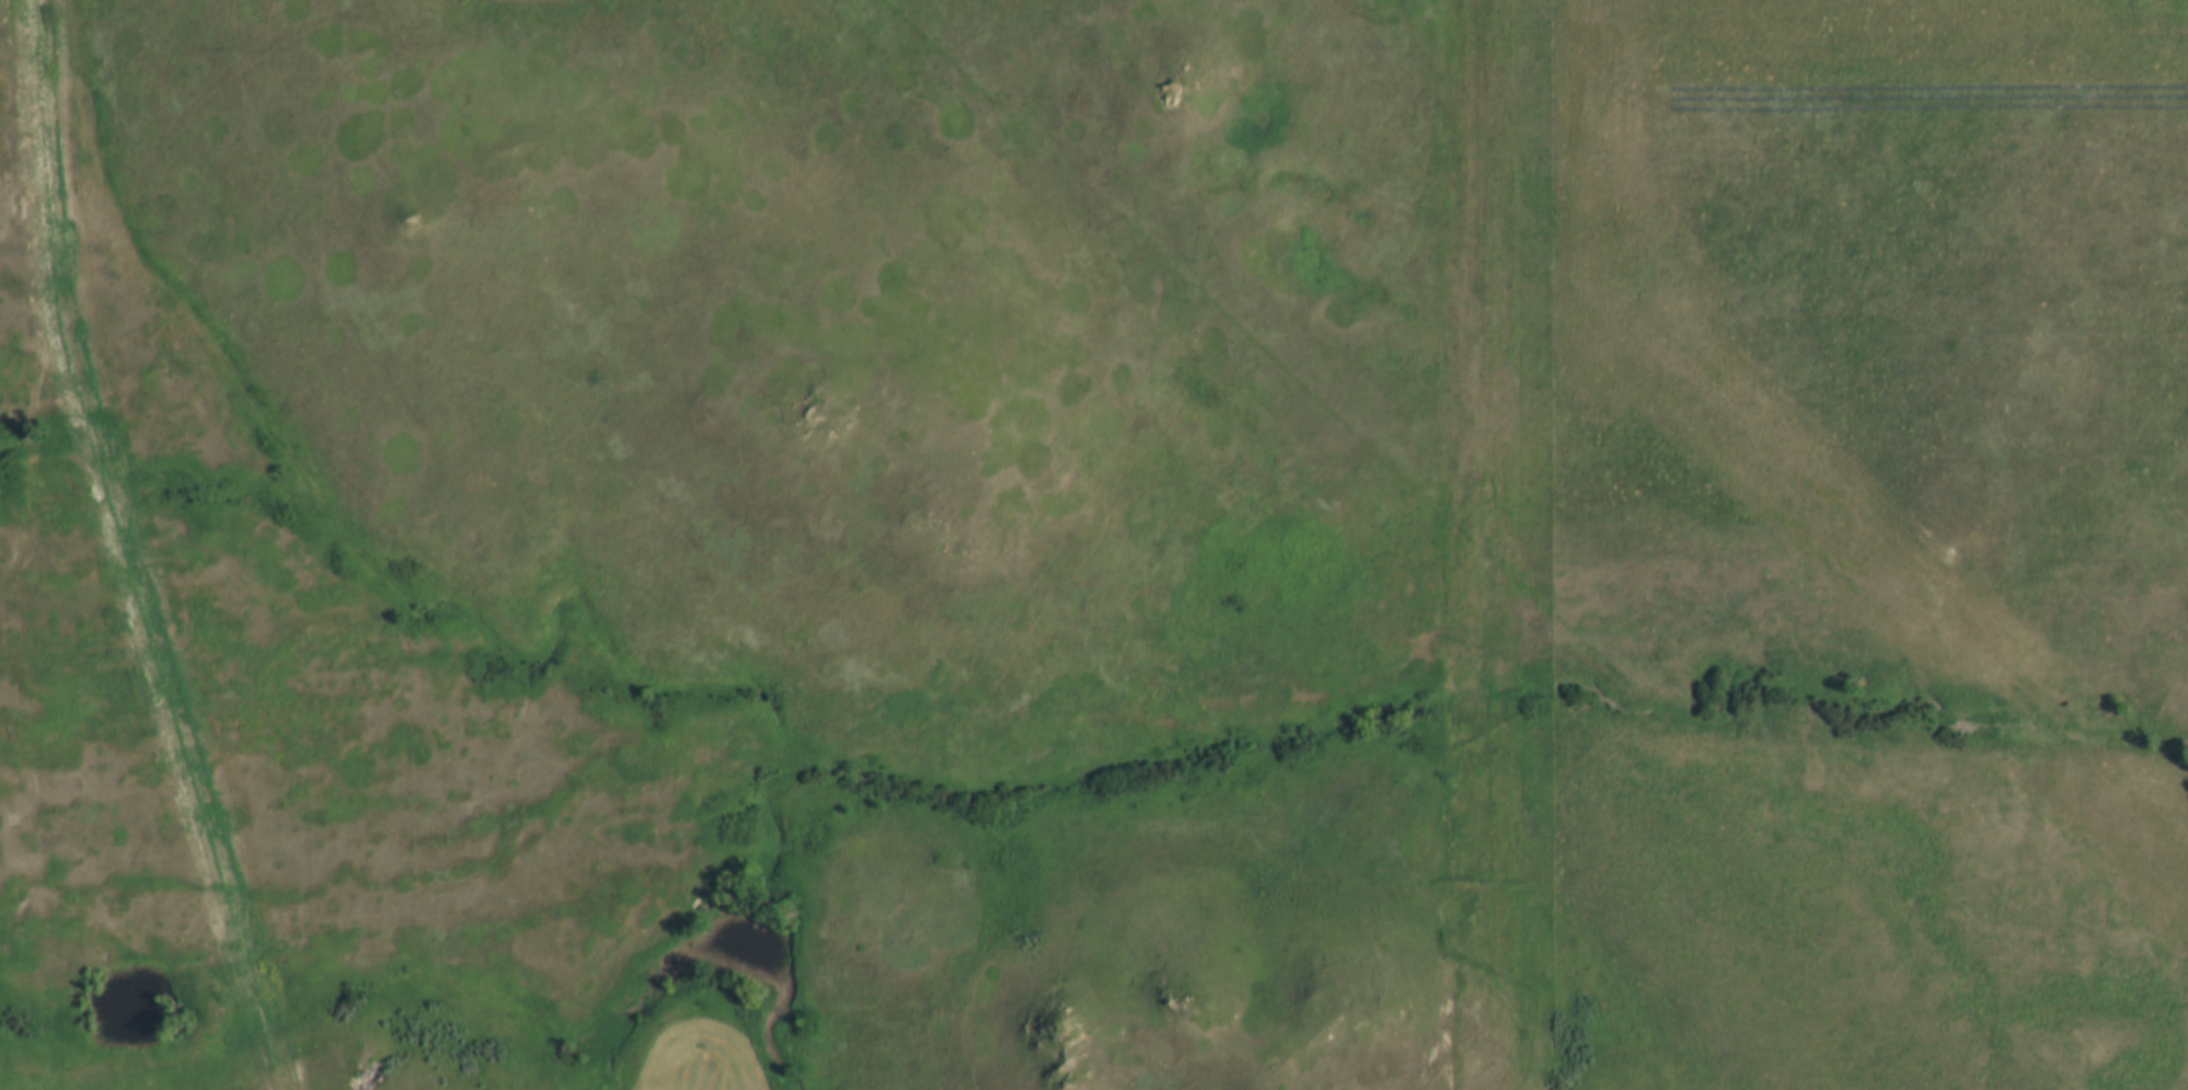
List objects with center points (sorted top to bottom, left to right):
road: (157, 156)
road: (12, 424)

